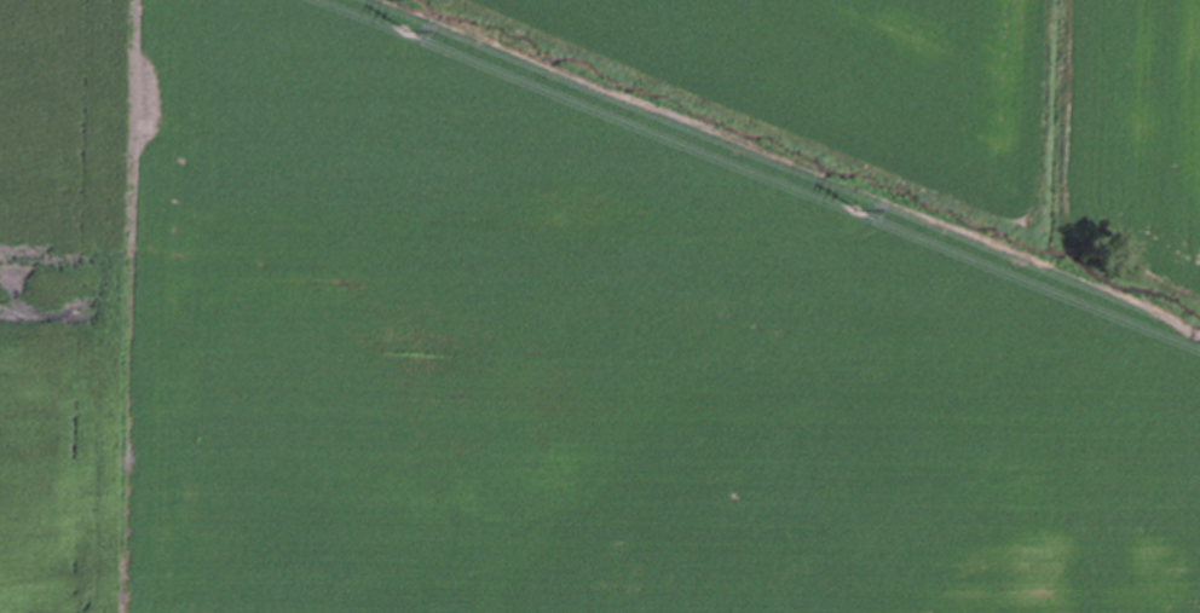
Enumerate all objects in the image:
power tower: (406, 33)
power tower: (855, 209)
crop: (600, 306)

